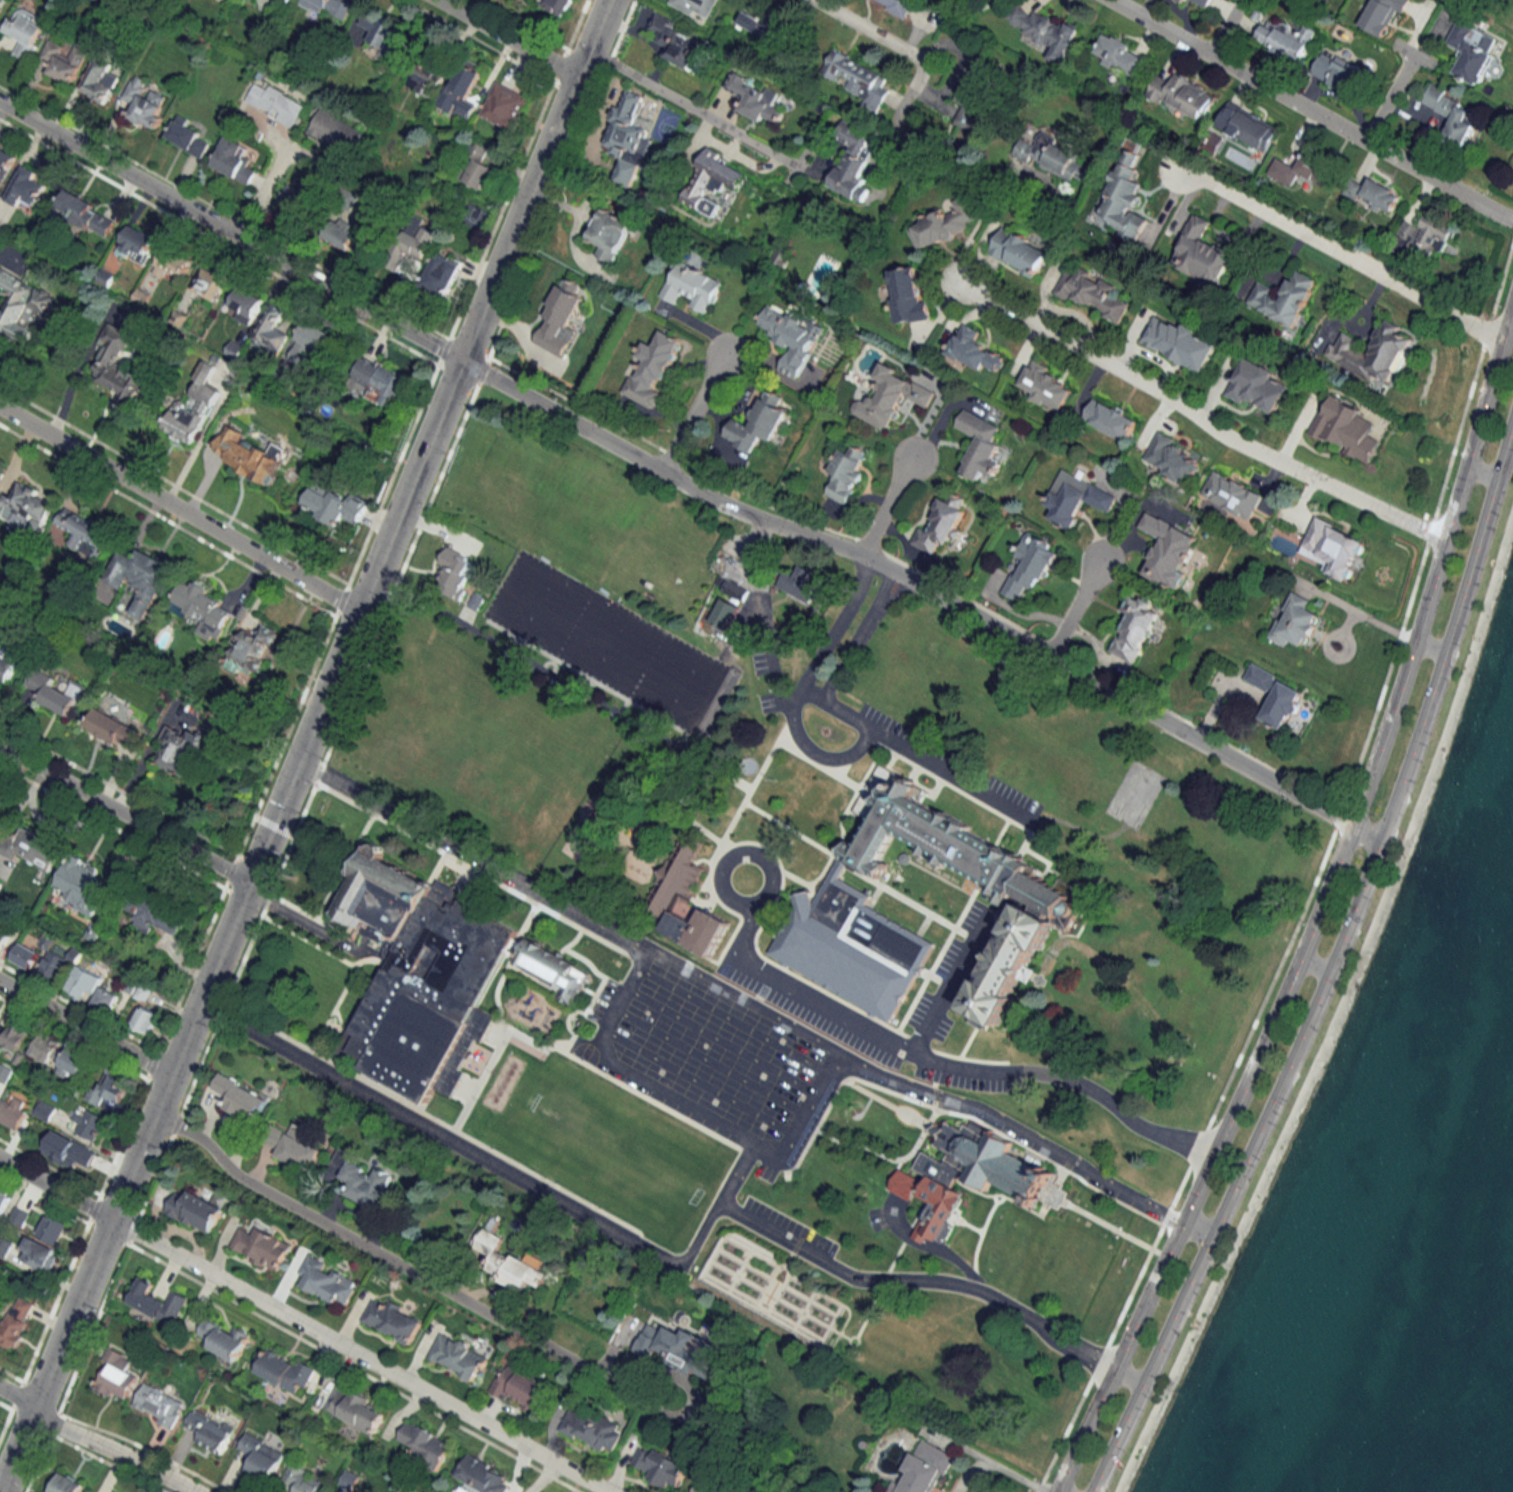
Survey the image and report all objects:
building: (286, 0)
building: (1181, 0)
building: (1203, 2)
building: (896, 5)
building: (0, 6)
building: (559, 6)
building: (330, 7)
building: (695, 7)
building: (1382, 14)
building: (761, 22)
road: (1225, 28)
building: (379, 30)
road: (871, 30)
building: (1043, 30)
building: (25, 32)
road: (508, 39)
building: (1284, 39)
building: (677, 43)
building: (1118, 54)
building: (1469, 54)
building: (62, 61)
road: (960, 70)
building: (1336, 73)
building: (426, 79)
building: (857, 79)
building: (100, 80)
road: (913, 84)
building: (462, 90)
building: (976, 91)
building: (1183, 95)
building: (755, 98)
road: (1386, 99)
road: (679, 100)
building: (143, 102)
building: (275, 103)
building: (505, 106)
road: (1312, 113)
building: (1450, 115)
building: (1246, 126)
building: (627, 130)
building: (335, 131)
building: (187, 137)
road: (727, 150)
building: (1053, 157)
building: (5, 161)
building: (234, 161)
building: (852, 161)
building: (1315, 167)
building: (479, 173)
building: (711, 181)
building: (25, 187)
building: (1372, 194)
building: (1124, 196)
road: (263, 197)
building: (297, 199)
building: (86, 214)
building: (946, 222)
building: (609, 233)
building: (342, 234)
building: (1423, 238)
building: (412, 243)
building: (137, 244)
building: (1019, 251)
road: (1339, 251)
building: (1203, 253)
building: (174, 262)
building: (441, 273)
building: (210, 283)
building: (691, 286)
building: (1091, 292)
building: (907, 296)
building: (1283, 297)
road: (1511, 303)
building: (22, 306)
building: (245, 306)
building: (559, 318)
building: (272, 330)
building: (791, 337)
building: (1179, 342)
building: (312, 345)
building: (973, 350)
building: (1373, 353)
building: (118, 367)
building: (652, 369)
building: (381, 380)
building: (1256, 385)
building: (1046, 387)
building: (891, 396)
building: (192, 409)
road: (693, 413)
road: (1197, 418)
building: (1110, 419)
building: (759, 421)
building: (1345, 427)
road: (1295, 434)
building: (980, 445)
building: (248, 454)
building: (1171, 458)
road: (1481, 471)
building: (847, 473)
road: (685, 485)
building: (1231, 494)
building: (1076, 498)
building: (24, 502)
building: (332, 504)
road: (887, 504)
road: (179, 510)
building: (941, 524)
building: (83, 532)
building: (1334, 548)
building: (1169, 551)
building: (1033, 564)
building: (454, 573)
building: (142, 579)
road: (762, 580)
building: (801, 584)
building: (732, 585)
building: (196, 600)
road: (1075, 608)
building: (725, 613)
building: (1295, 621)
road: (836, 622)
building: (1135, 629)
road: (855, 634)
building: (2, 641)
park: (609, 643)
road: (1430, 646)
building: (251, 650)
building: (9, 664)
road: (774, 676)
building: (54, 691)
building: (1276, 696)
road: (826, 702)
building: (114, 728)
road: (305, 746)
road: (809, 749)
building: (181, 751)
road: (941, 768)
road: (124, 815)
building: (31, 847)
building: (83, 885)
building: (664, 895)
building: (840, 902)
road: (1319, 905)
building: (158, 916)
building: (3, 938)
building: (25, 955)
building: (547, 963)
road: (1314, 964)
building: (53, 966)
road: (1331, 969)
building: (418, 973)
building: (78, 984)
road: (948, 988)
building: (105, 999)
road: (736, 1002)
building: (0, 1012)
building: (145, 1020)
road: (85, 1029)
road: (867, 1030)
building: (15, 1035)
building: (46, 1047)
parking lot: (705, 1058)
building: (73, 1062)
building: (5, 1073)
road: (638, 1078)
building: (108, 1088)
building: (241, 1096)
road: (806, 1101)
building: (44, 1110)
building: (13, 1112)
building: (89, 1123)
park: (609, 1143)
building: (294, 1146)
building: (68, 1151)
road: (471, 1151)
building: (986, 1155)
road: (732, 1169)
building: (366, 1184)
road: (55, 1187)
building: (928, 1189)
building: (3, 1201)
building: (195, 1210)
building: (52, 1229)
road: (1197, 1230)
building: (5, 1244)
building: (261, 1247)
road: (380, 1252)
building: (39, 1254)
building: (510, 1263)
building: (326, 1281)
road: (914, 1281)
building: (157, 1302)
building: (393, 1320)
building: (16, 1321)
building: (224, 1339)
building: (669, 1348)
road: (362, 1354)
building: (458, 1356)
building: (285, 1371)
building: (116, 1374)
road: (1128, 1376)
building: (520, 1388)
road: (18, 1396)
building: (159, 1405)
building: (356, 1410)
building: (591, 1429)
building: (210, 1431)
building: (427, 1444)
road: (113, 1449)
building: (261, 1456)
building: (661, 1467)
road: (996, 1467)
building: (924, 1469)
building: (482, 1474)
building: (349, 1479)
building: (304, 1480)
building: (67, 1484)
building: (710, 1486)
road: (1059, 1491)

